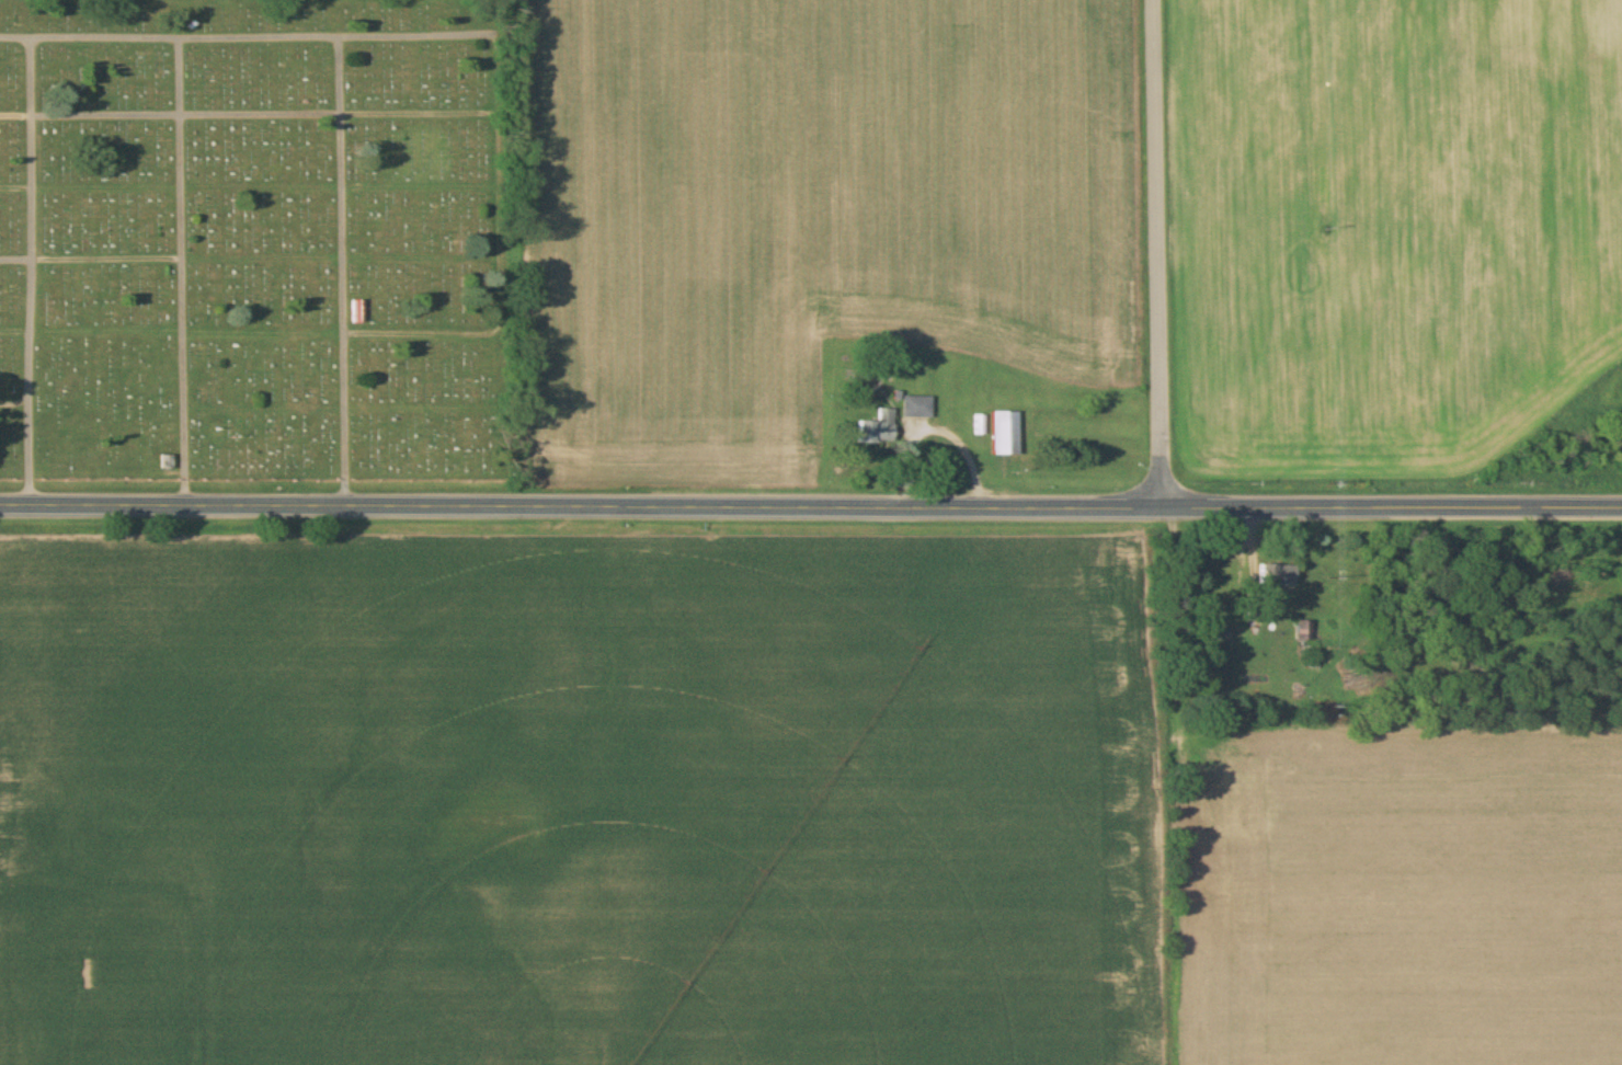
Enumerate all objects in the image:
park: (256, 241)
road: (1158, 254)
building: (356, 312)
building: (916, 406)
building: (878, 427)
building: (1004, 433)
road: (810, 507)
building: (1272, 574)

